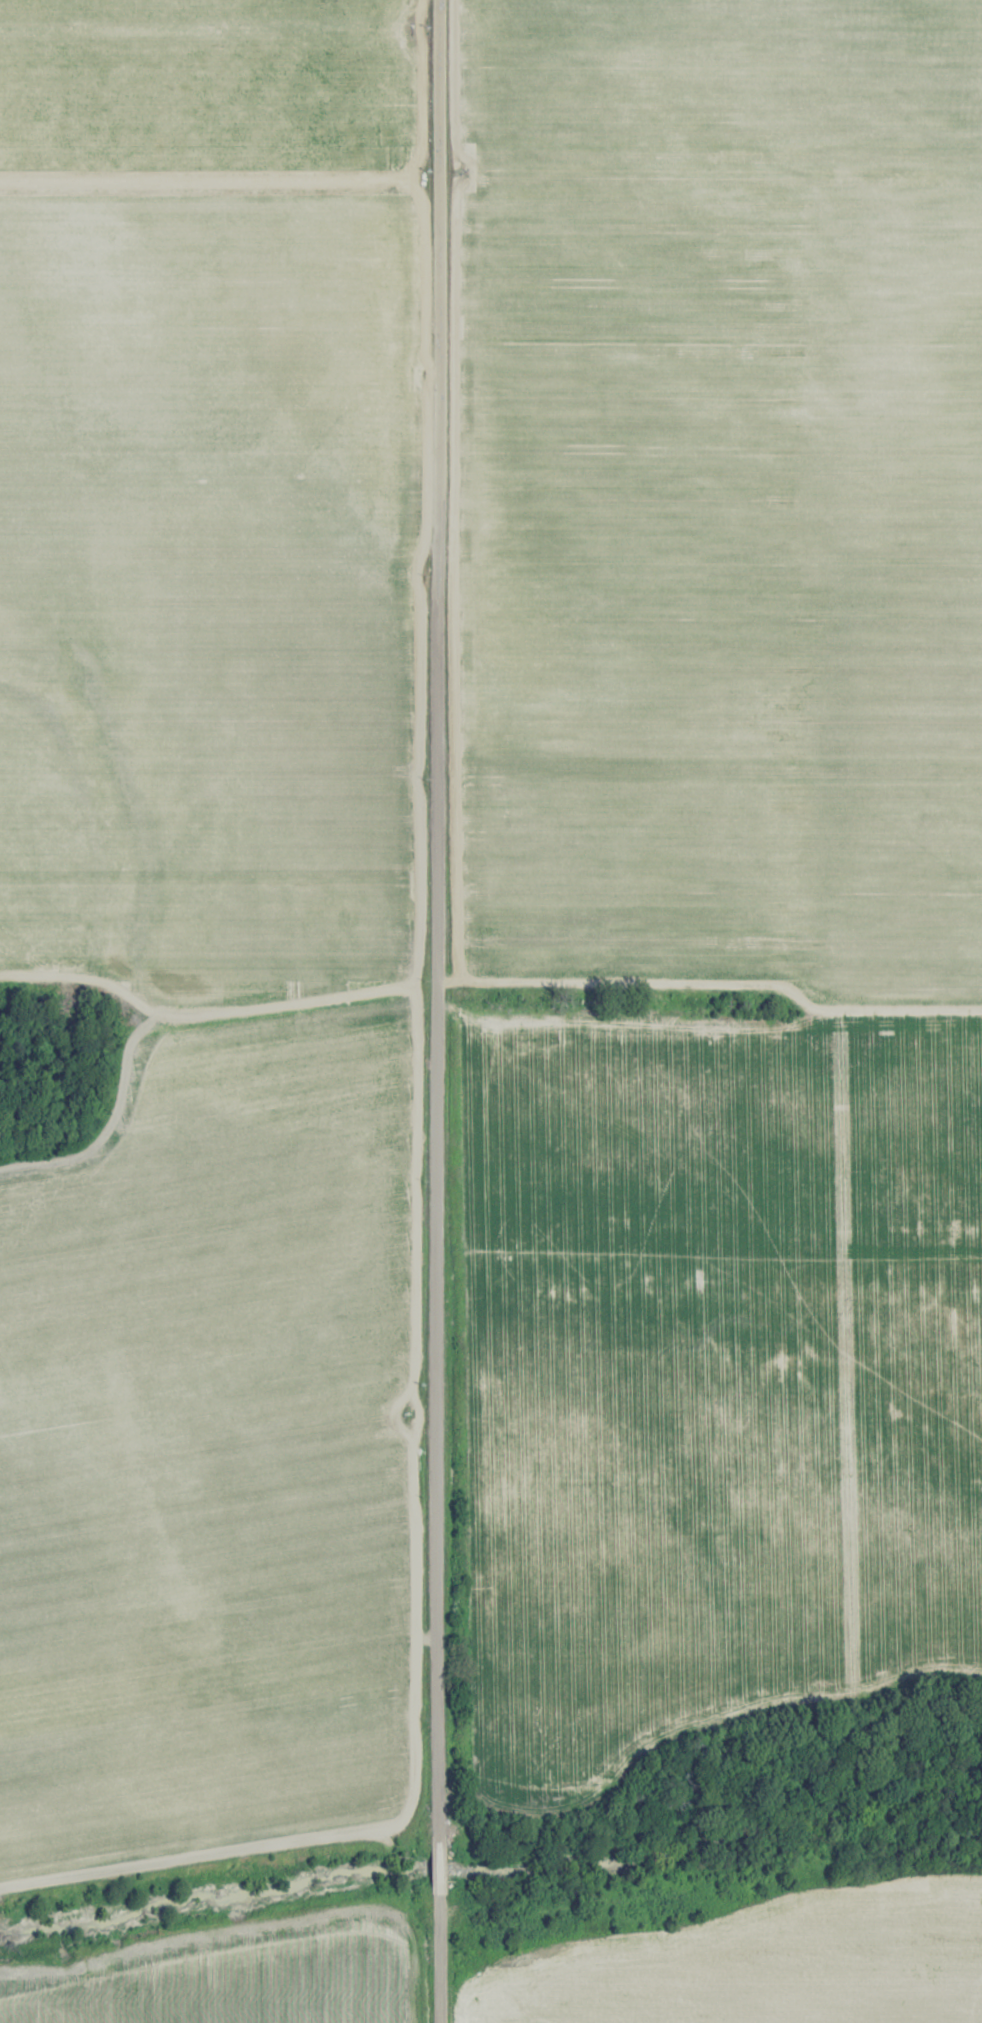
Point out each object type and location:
road: (434, 946)
road: (623, 996)
road: (435, 1958)

